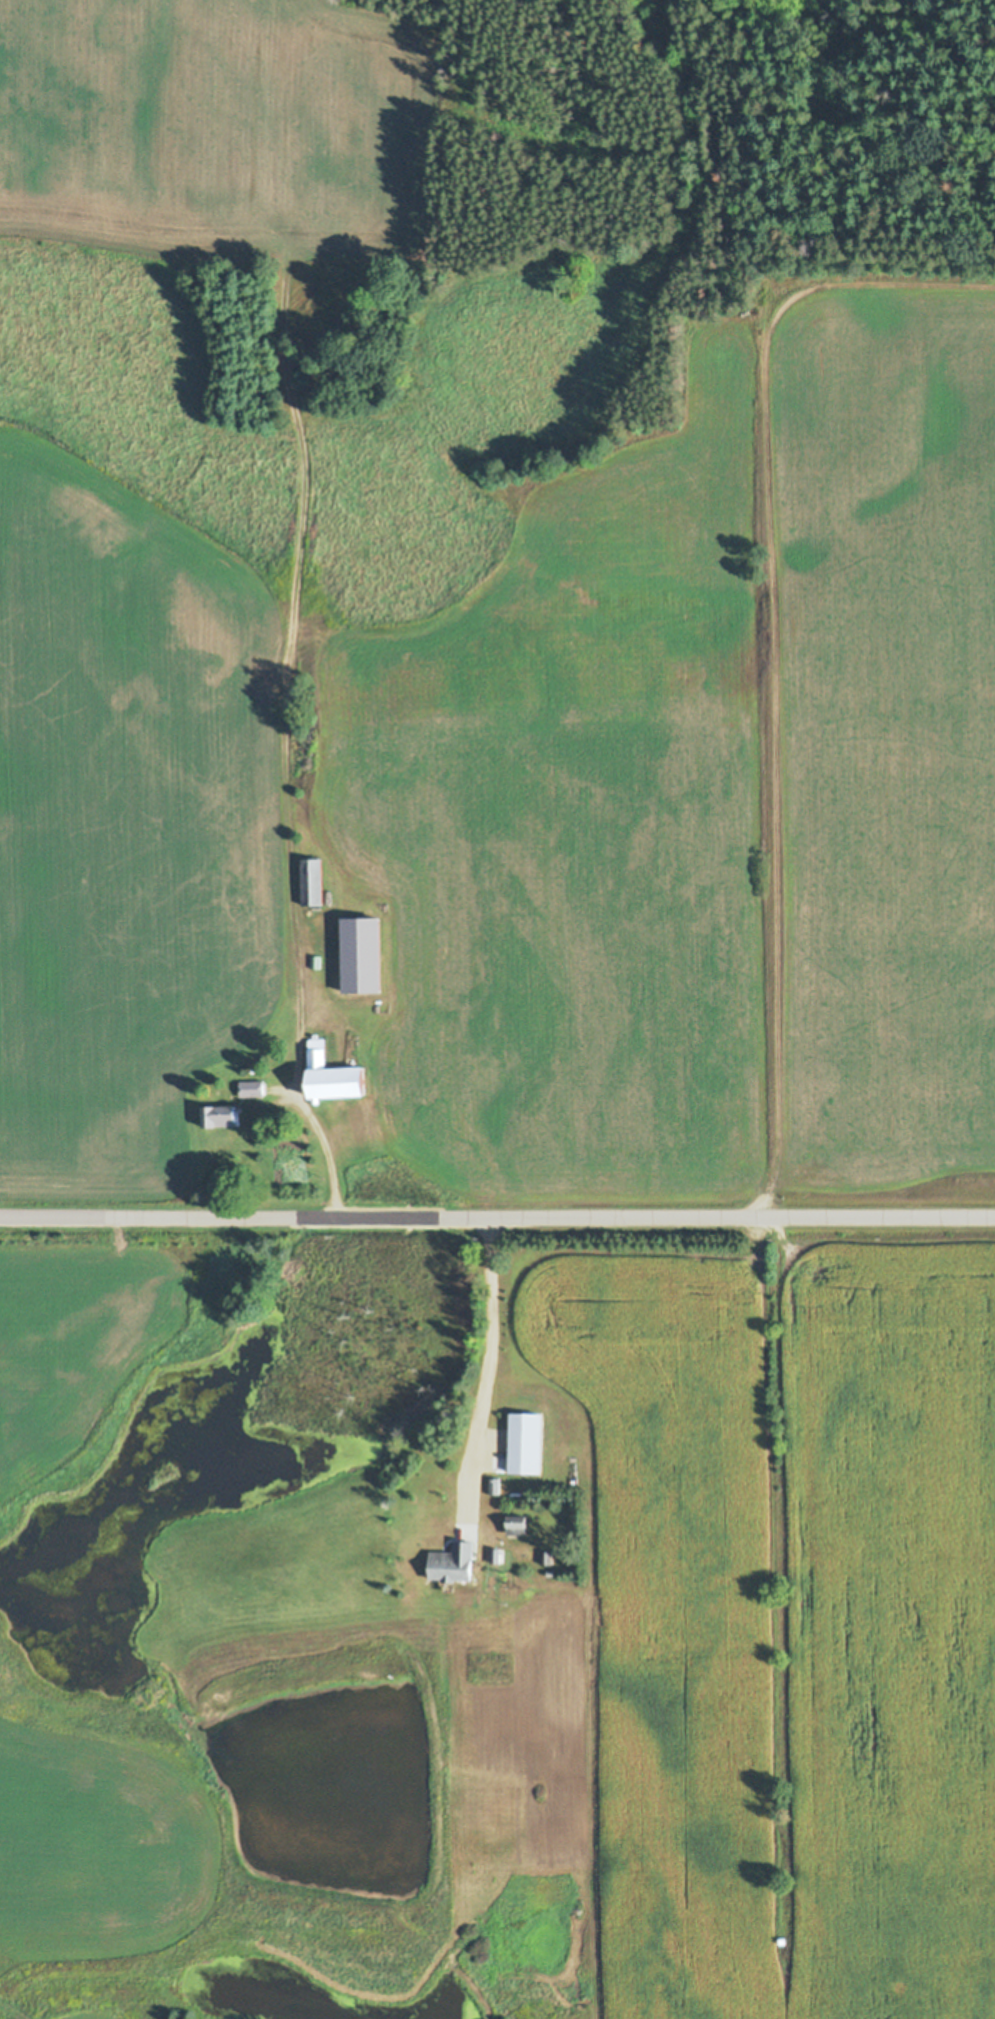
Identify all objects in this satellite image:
building: (312, 882)
building: (335, 1076)
building: (252, 1089)
building: (220, 1116)
road: (327, 1154)
road: (497, 1216)
road: (490, 1344)
building: (526, 1443)
building: (518, 1524)
building: (454, 1563)

